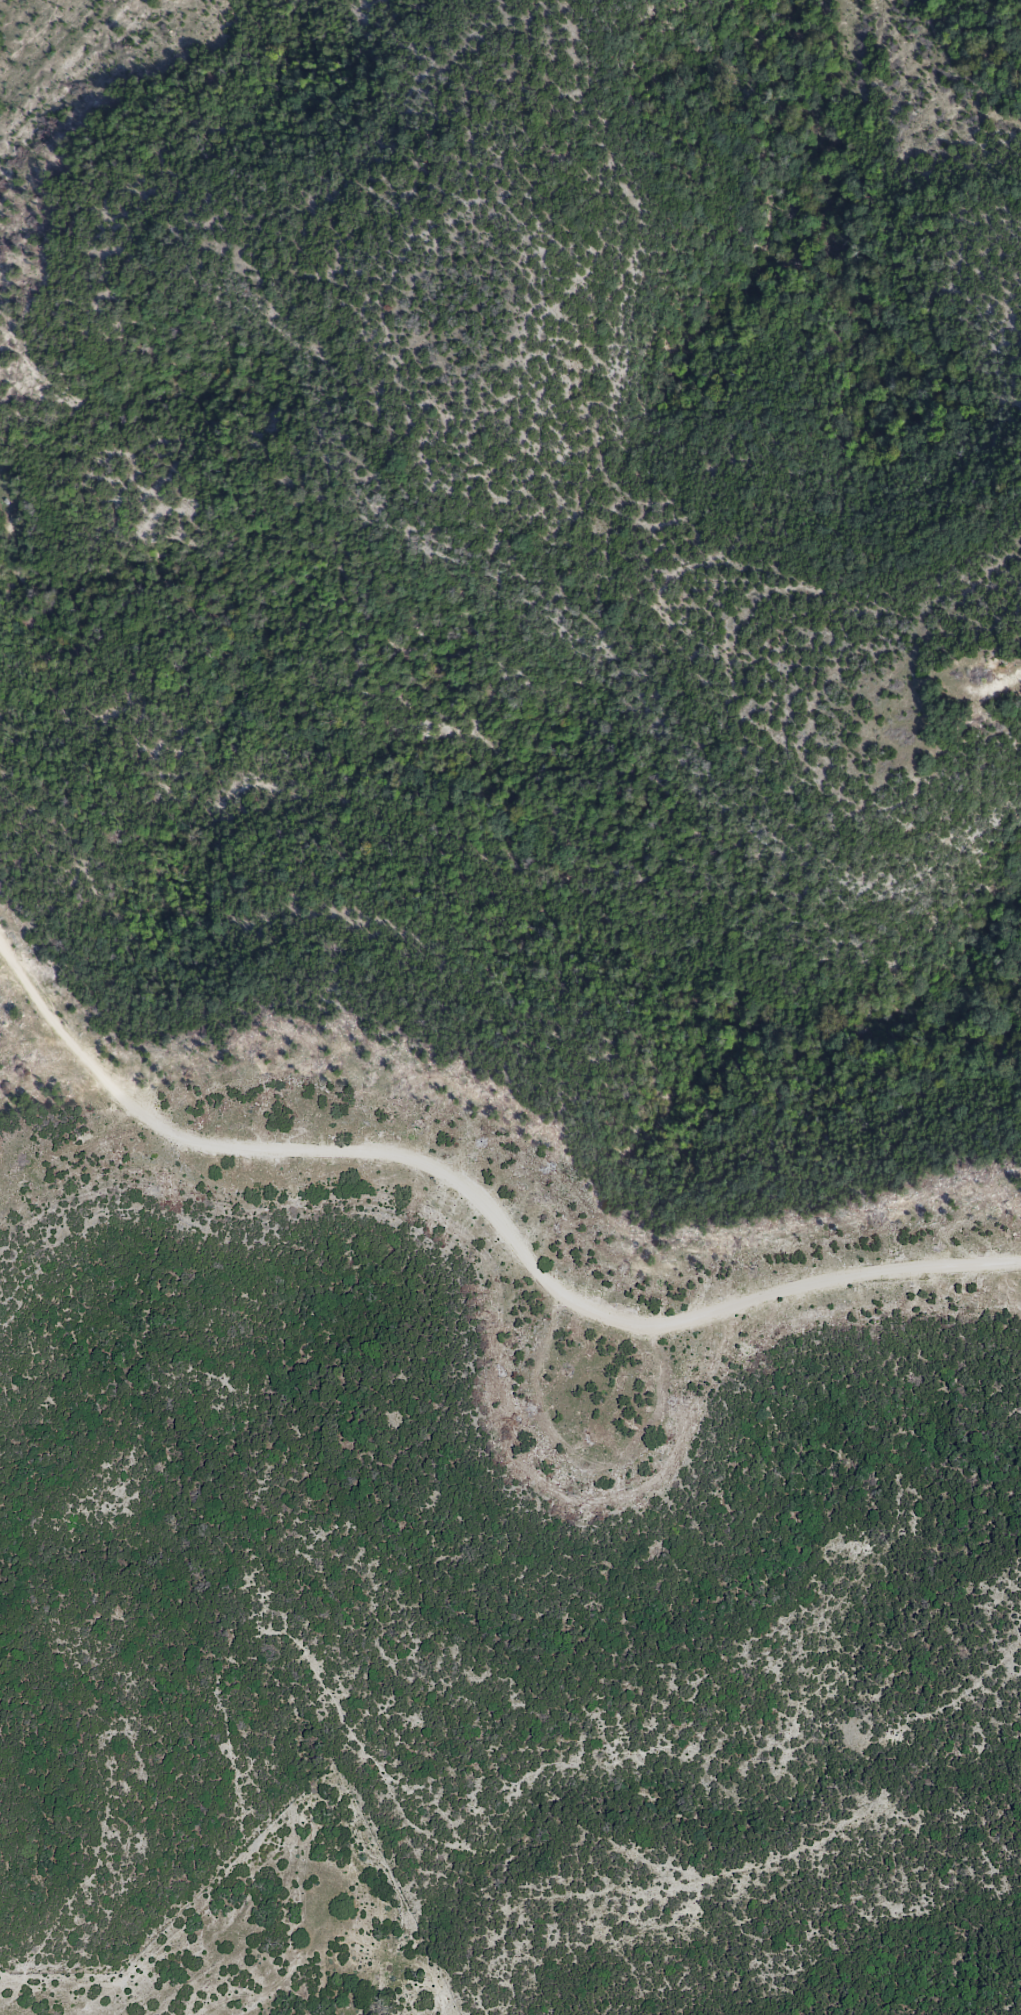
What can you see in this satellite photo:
road: (477, 1204)

